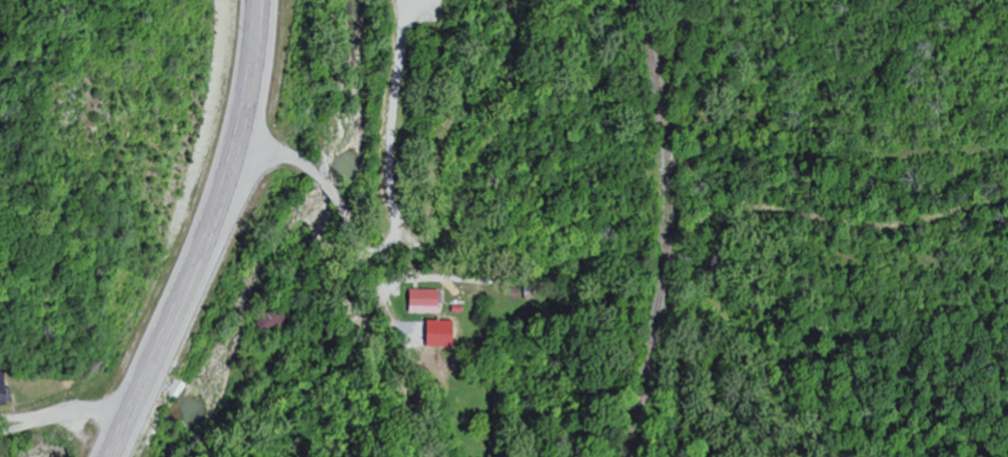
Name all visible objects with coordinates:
road: (648, 108)
road: (279, 155)
road: (329, 193)
railway: (663, 227)
road: (202, 232)
road: (393, 329)
road: (67, 413)
road: (19, 420)

